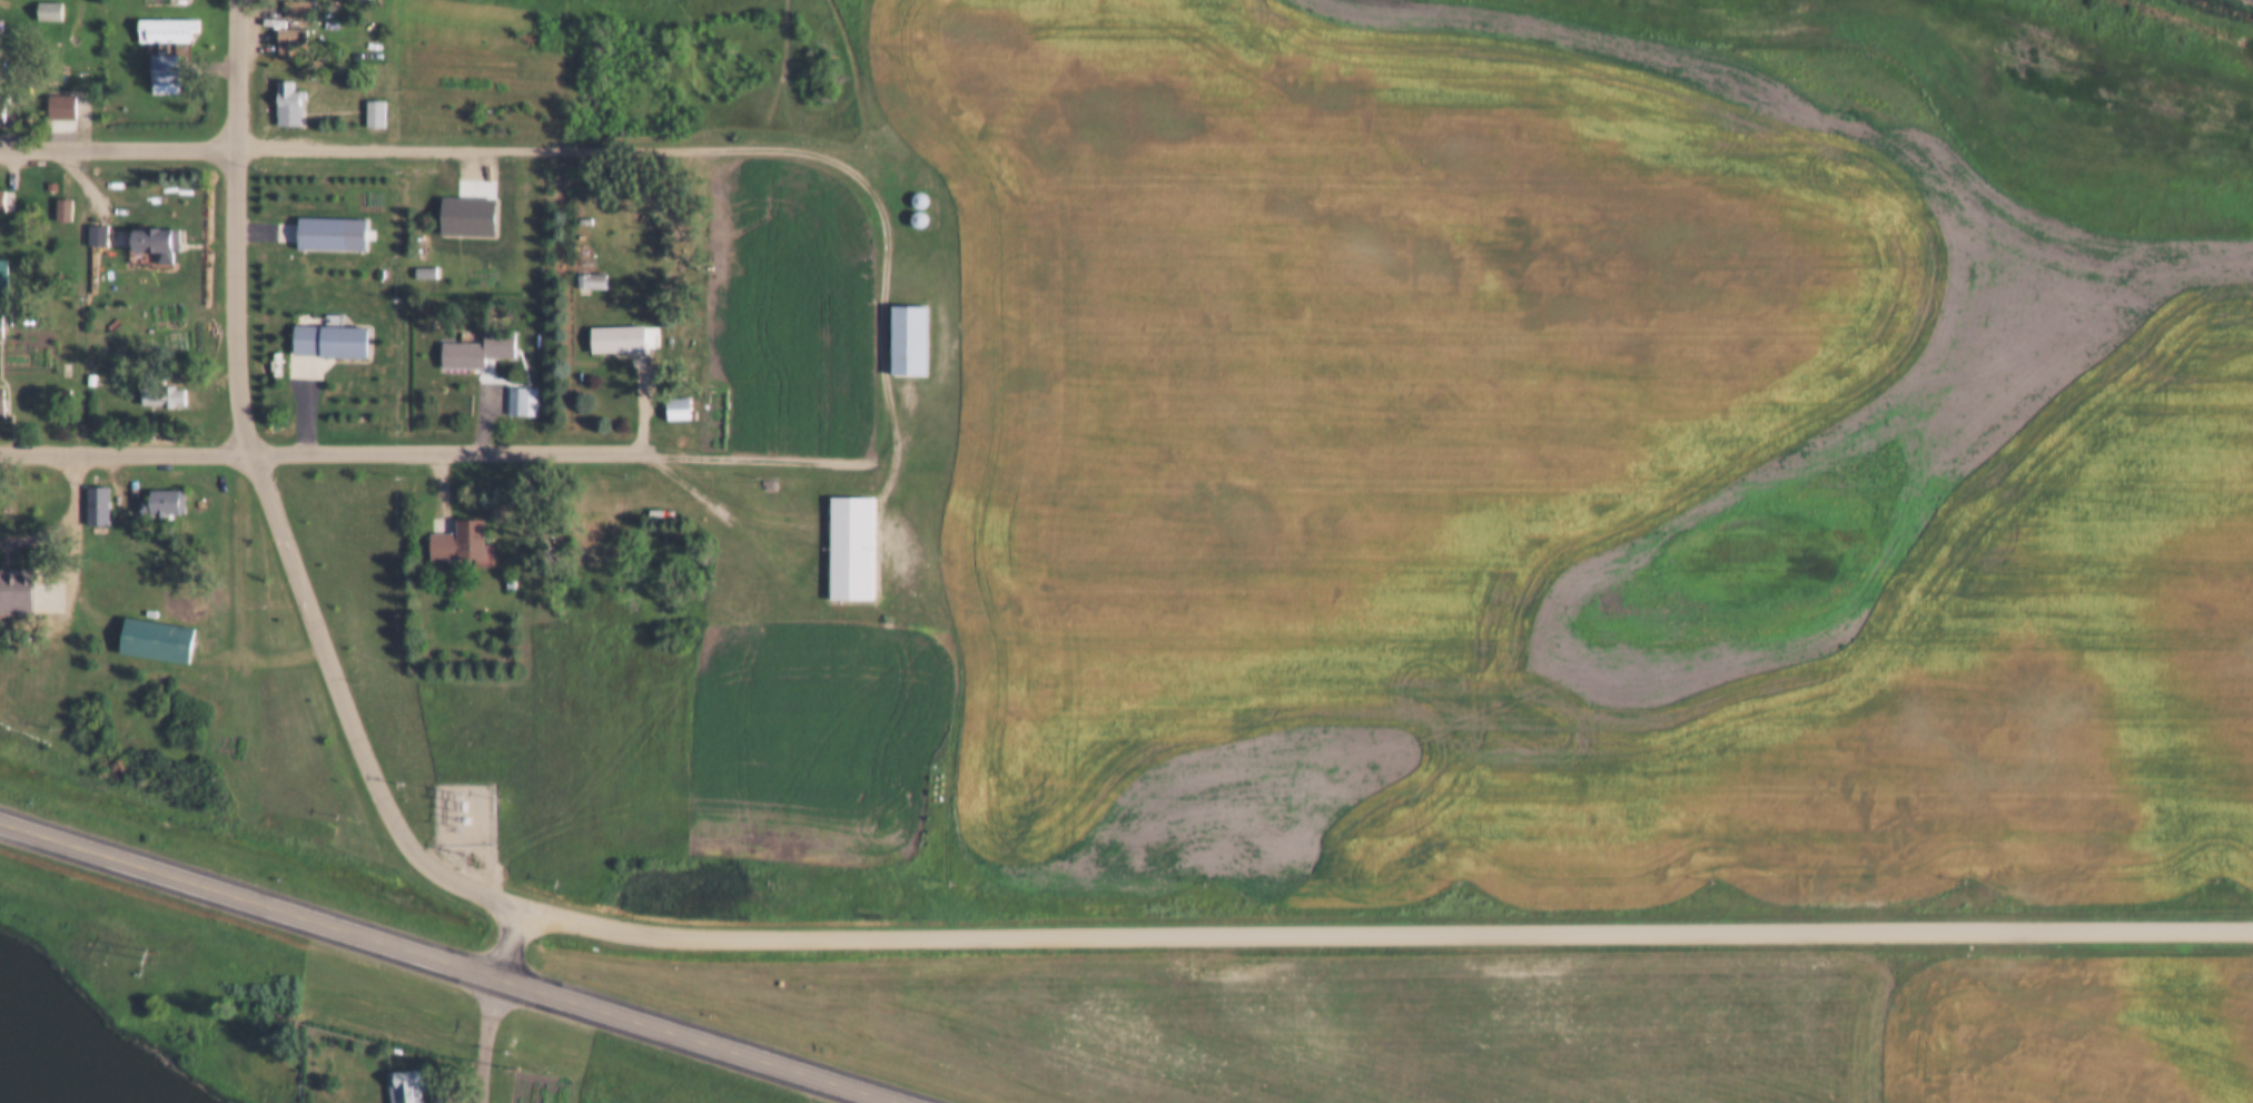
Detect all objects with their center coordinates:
building: (41, 2)
building: (296, 9)
building: (50, 11)
building: (158, 16)
building: (283, 27)
building: (168, 30)
building: (360, 37)
building: (293, 41)
building: (157, 59)
building: (281, 91)
building: (52, 93)
building: (367, 101)
building: (67, 105)
building: (290, 106)
building: (4, 108)
building: (376, 115)
road: (118, 150)
road: (517, 150)
building: (910, 187)
silo: (910, 187)
building: (55, 197)
building: (4, 200)
building: (461, 205)
building: (909, 206)
silo: (909, 206)
building: (66, 210)
building: (323, 220)
building: (88, 221)
road: (237, 225)
building: (147, 229)
building: (101, 236)
building: (161, 240)
building: (416, 259)
building: (582, 267)
building: (429, 274)
building: (4, 278)
building: (593, 282)
building: (4, 325)
building: (609, 326)
building: (900, 327)
building: (322, 328)
building: (471, 335)
building: (622, 339)
building: (337, 342)
building: (503, 345)
building: (83, 366)
building: (155, 384)
building: (515, 387)
building: (670, 396)
building: (525, 402)
building: (4, 404)
building: (681, 408)
road: (899, 436)
road: (313, 447)
building: (154, 489)
building: (88, 493)
building: (166, 504)
building: (99, 505)
building: (454, 530)
building: (844, 535)
building: (464, 543)
building: (502, 570)
building: (11, 579)
building: (886, 603)
building: (147, 628)
road: (349, 707)
power substation: (456, 799)
road: (508, 937)
road: (1384, 938)
road: (458, 959)
road: (488, 1037)
building: (394, 1079)

